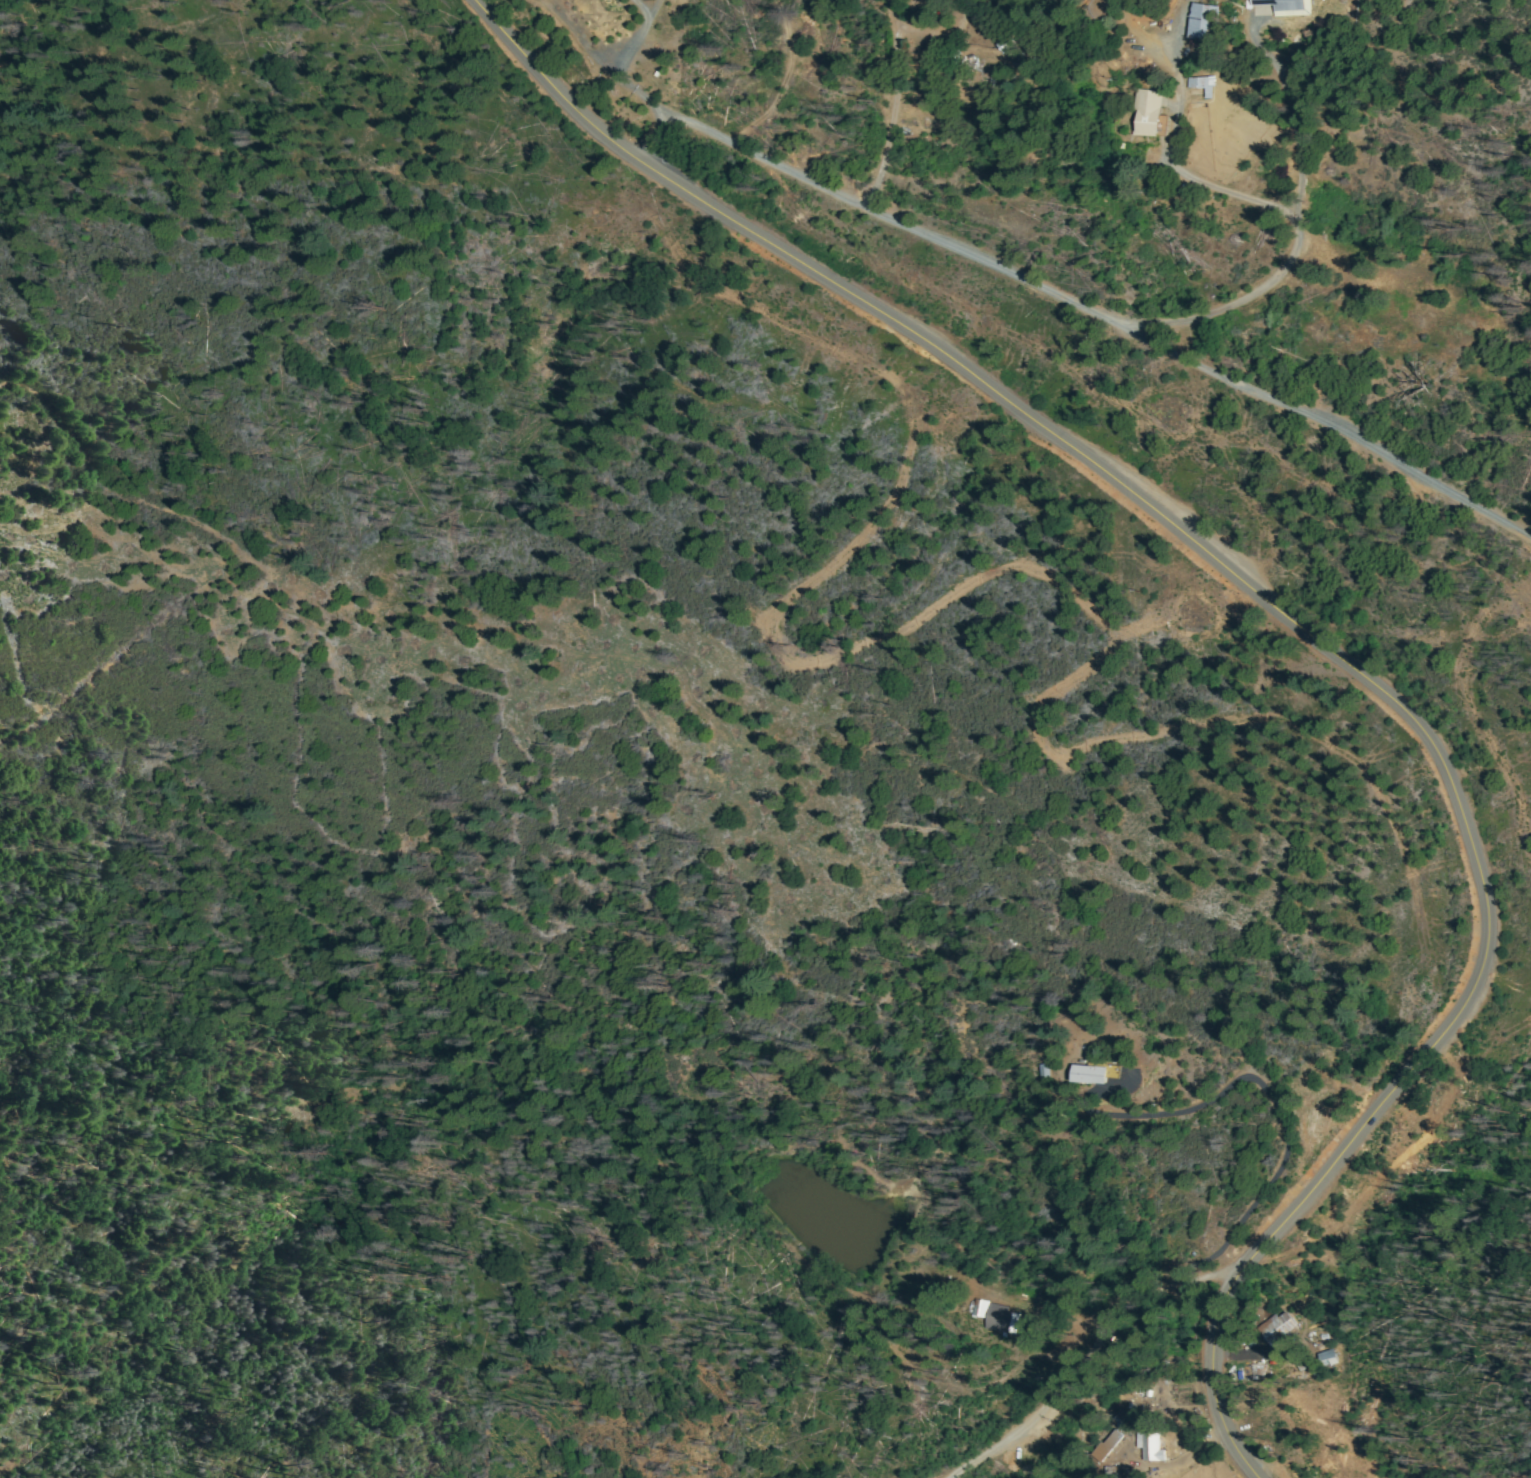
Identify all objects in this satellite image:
building: (926, 1)
building: (1290, 6)
building: (1202, 21)
building: (1203, 85)
building: (1146, 113)
road: (1027, 284)
road: (1286, 623)
building: (1047, 1071)
building: (1088, 1073)
road: (1223, 1215)
building: (982, 1308)
building: (1001, 1317)
building: (1283, 1327)
building: (1326, 1357)
road: (1085, 1400)
building: (1149, 1444)
building: (1107, 1449)
building: (1119, 1472)

